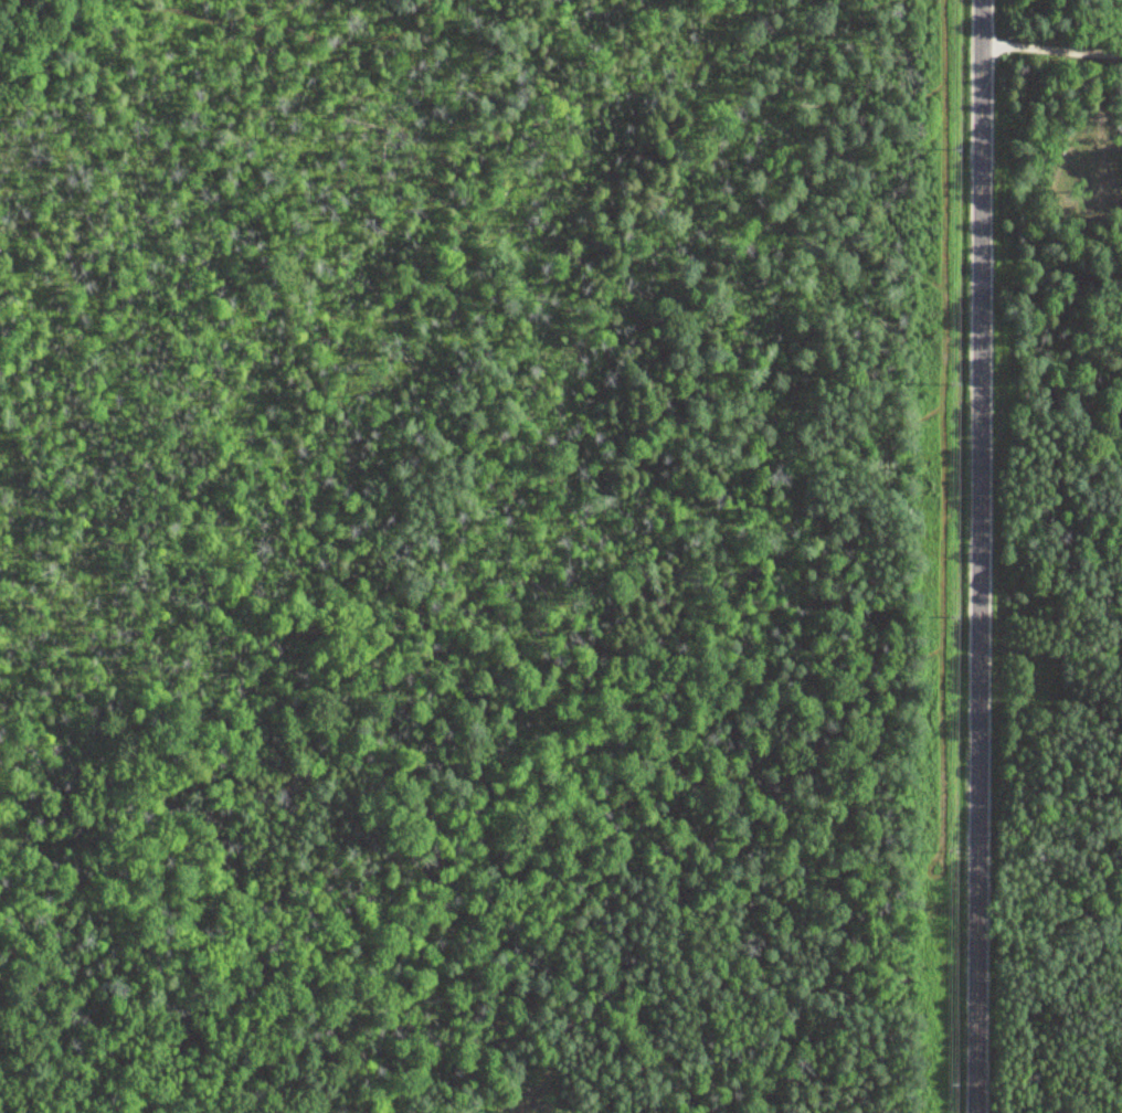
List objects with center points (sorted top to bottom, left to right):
road: (1054, 67)
road: (743, 224)
road: (982, 555)

